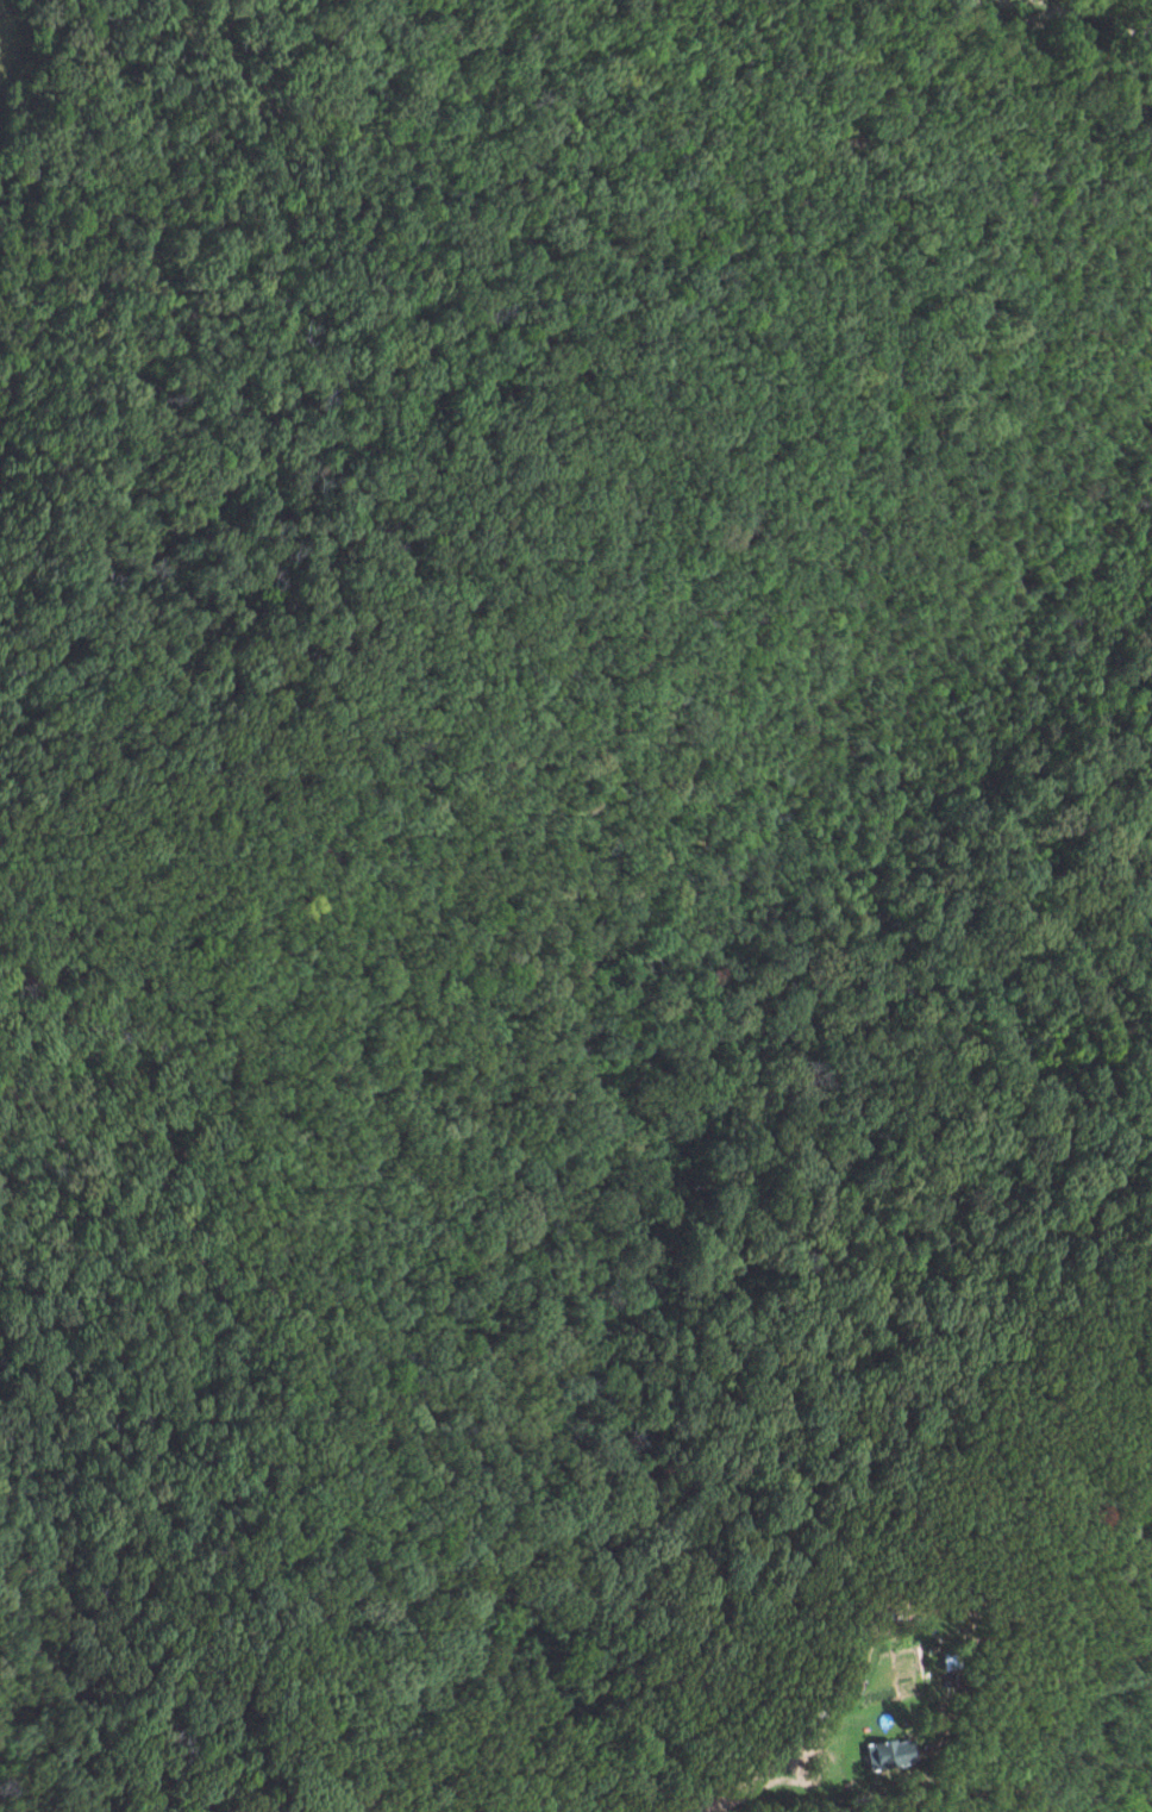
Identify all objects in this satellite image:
road: (815, 1739)
building: (877, 1754)

